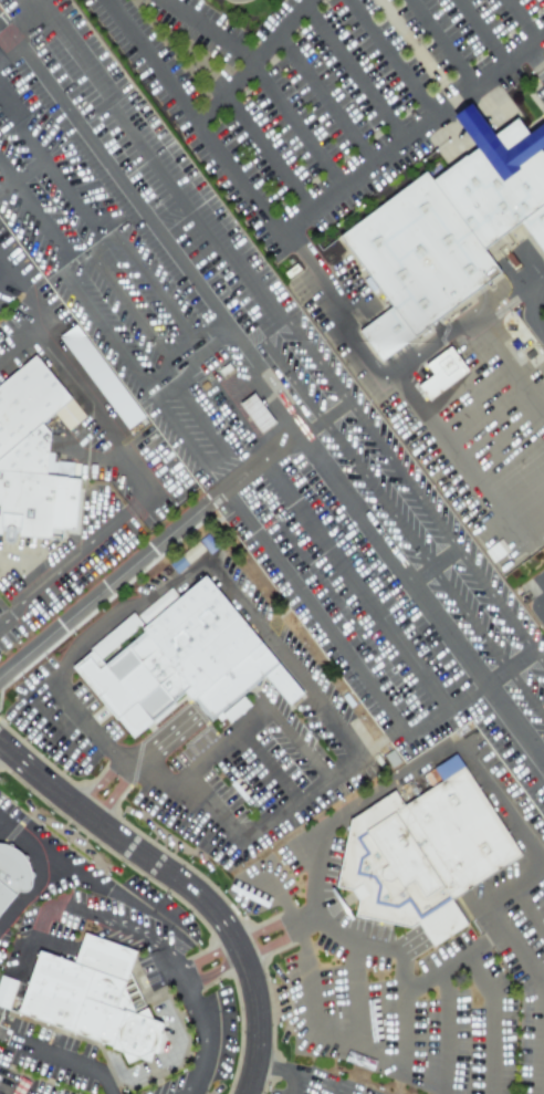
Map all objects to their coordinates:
road: (522, 20)
road: (2, 25)
road: (29, 25)
road: (483, 31)
road: (441, 43)
road: (73, 48)
road: (391, 58)
road: (252, 62)
road: (534, 62)
road: (353, 73)
road: (264, 81)
road: (325, 98)
road: (410, 135)
road: (266, 153)
road: (46, 164)
road: (21, 175)
road: (245, 190)
road: (159, 204)
road: (31, 216)
road: (154, 228)
building: (449, 233)
road: (84, 261)
road: (207, 269)
road: (6, 272)
road: (148, 281)
road: (535, 284)
road: (541, 285)
road: (28, 290)
road: (127, 306)
road: (527, 309)
road: (458, 324)
road: (205, 326)
road: (114, 340)
road: (178, 346)
road: (166, 360)
road: (509, 360)
road: (203, 362)
building: (441, 373)
building: (101, 376)
road: (333, 383)
road: (208, 431)
building: (30, 454)
road: (450, 457)
road: (139, 476)
road: (527, 525)
road: (170, 535)
road: (433, 565)
road: (431, 566)
road: (355, 585)
road: (421, 596)
road: (542, 600)
road: (317, 612)
road: (79, 646)
road: (285, 660)
building: (184, 661)
road: (471, 694)
road: (301, 739)
road: (160, 740)
road: (201, 759)
road: (265, 765)
road: (401, 773)
road: (97, 782)
road: (114, 795)
road: (300, 798)
road: (211, 805)
road: (29, 850)
building: (427, 855)
building: (12, 876)
road: (504, 885)
road: (185, 886)
road: (119, 889)
road: (25, 893)
road: (525, 909)
road: (43, 917)
road: (266, 929)
road: (133, 930)
road: (352, 940)
road: (48, 942)
road: (273, 942)
road: (410, 946)
road: (511, 950)
road: (206, 955)
road: (451, 963)
road: (13, 969)
road: (215, 971)
building: (6, 991)
road: (354, 992)
building: (94, 999)
road: (399, 1006)
road: (493, 1018)
road: (444, 1023)
road: (206, 1040)
road: (349, 1043)
road: (66, 1060)
road: (542, 1066)
road: (291, 1069)
road: (334, 1086)

